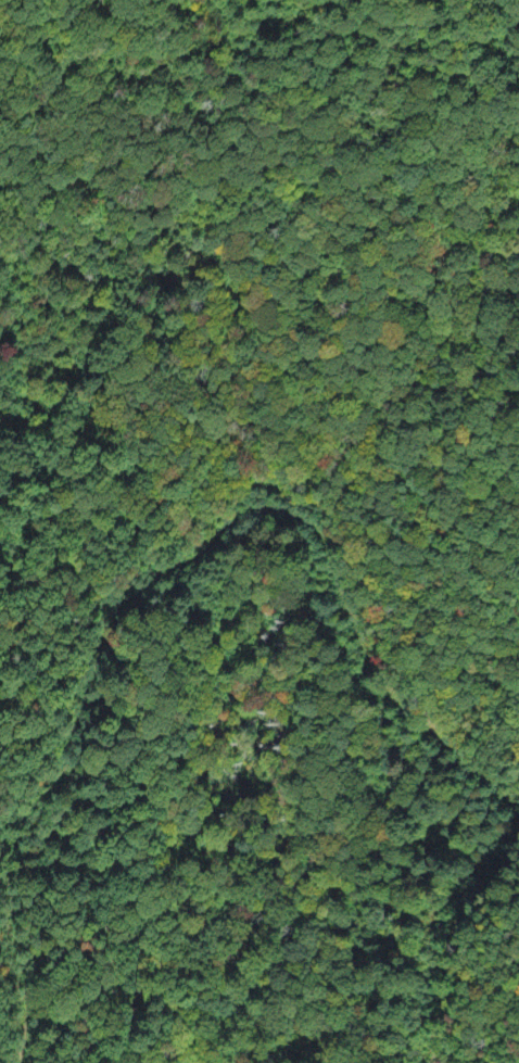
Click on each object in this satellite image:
road: (153, 915)

